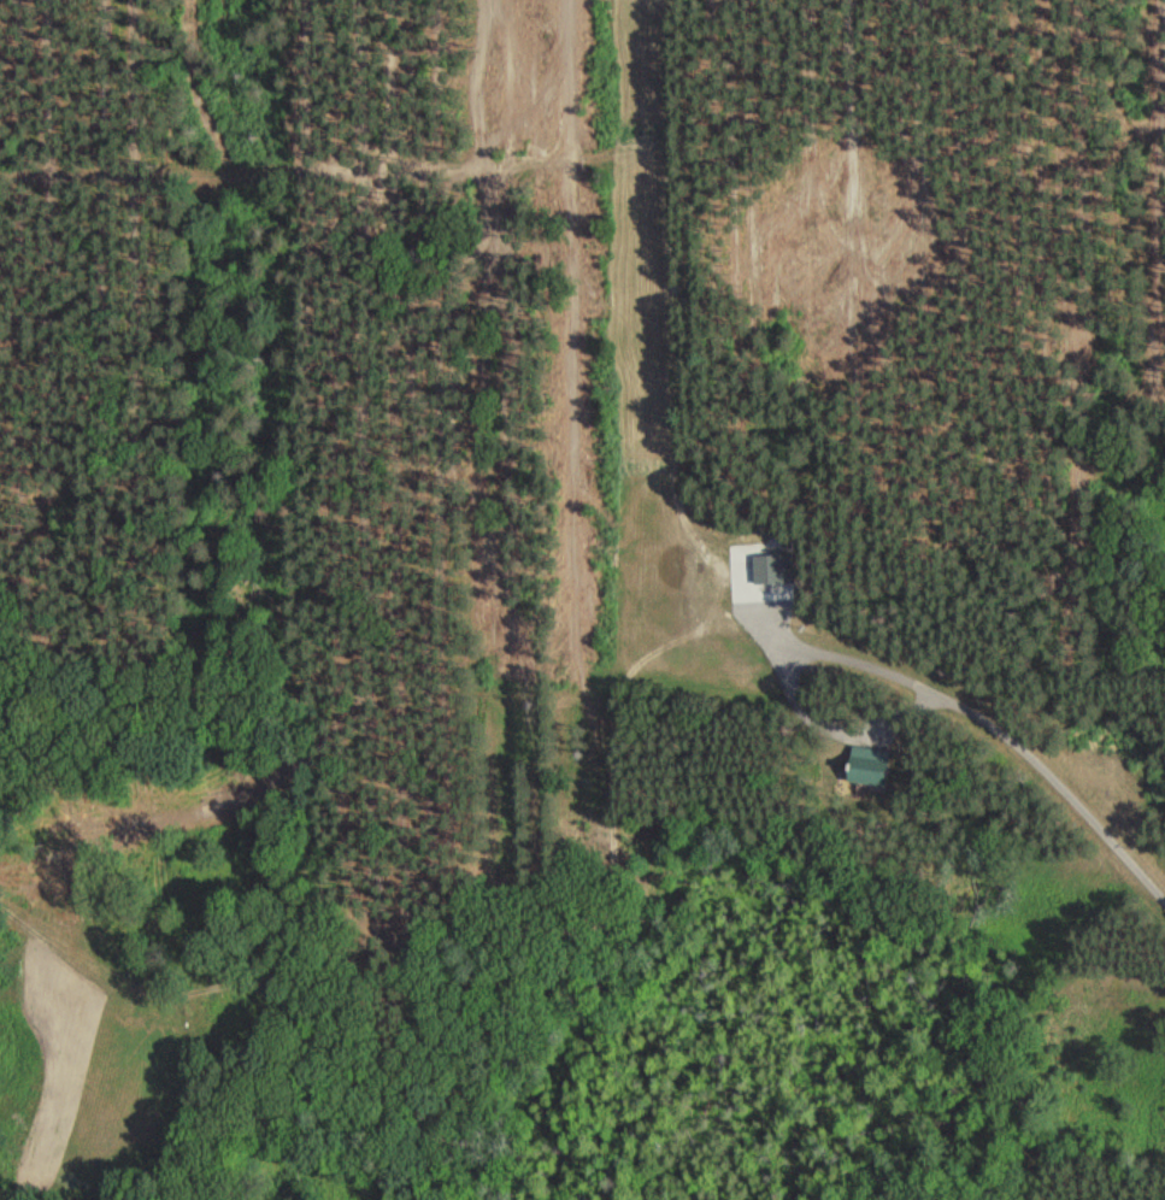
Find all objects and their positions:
building: (773, 570)
building: (866, 767)

